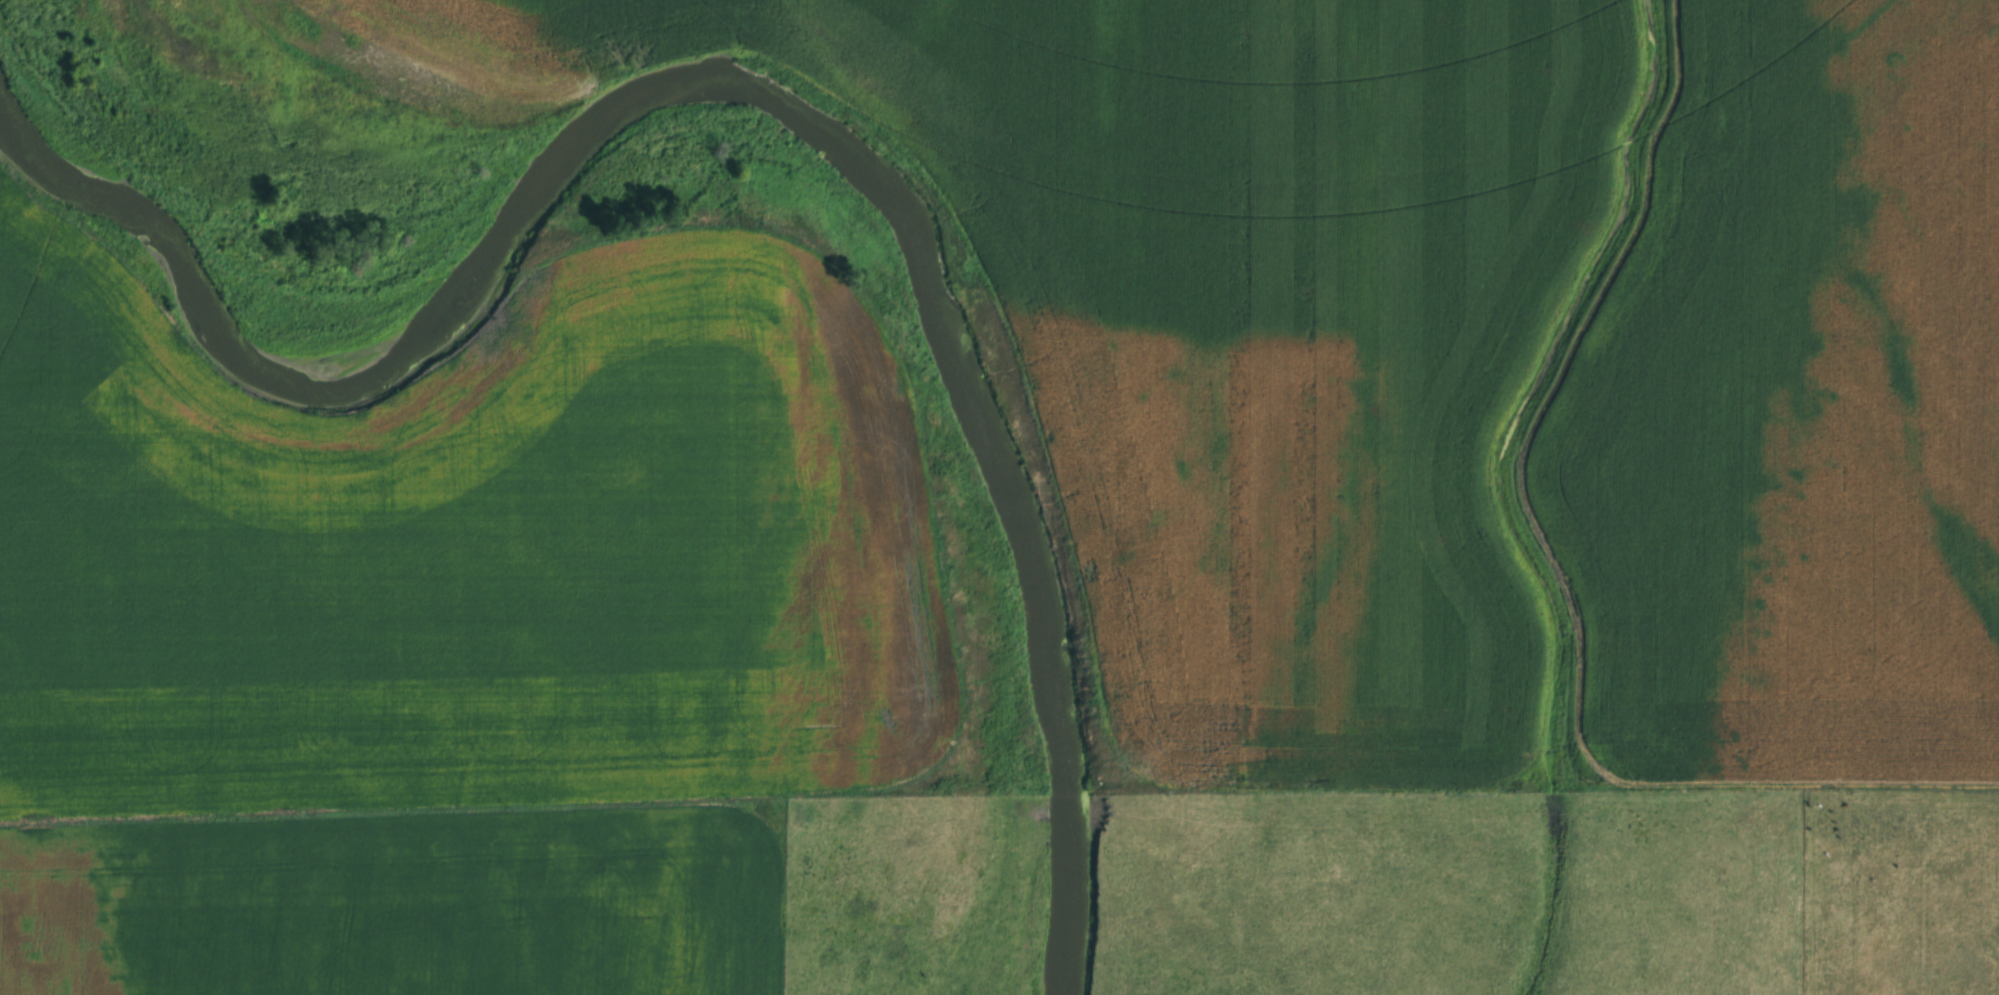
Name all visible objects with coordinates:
river: (780, 110)

